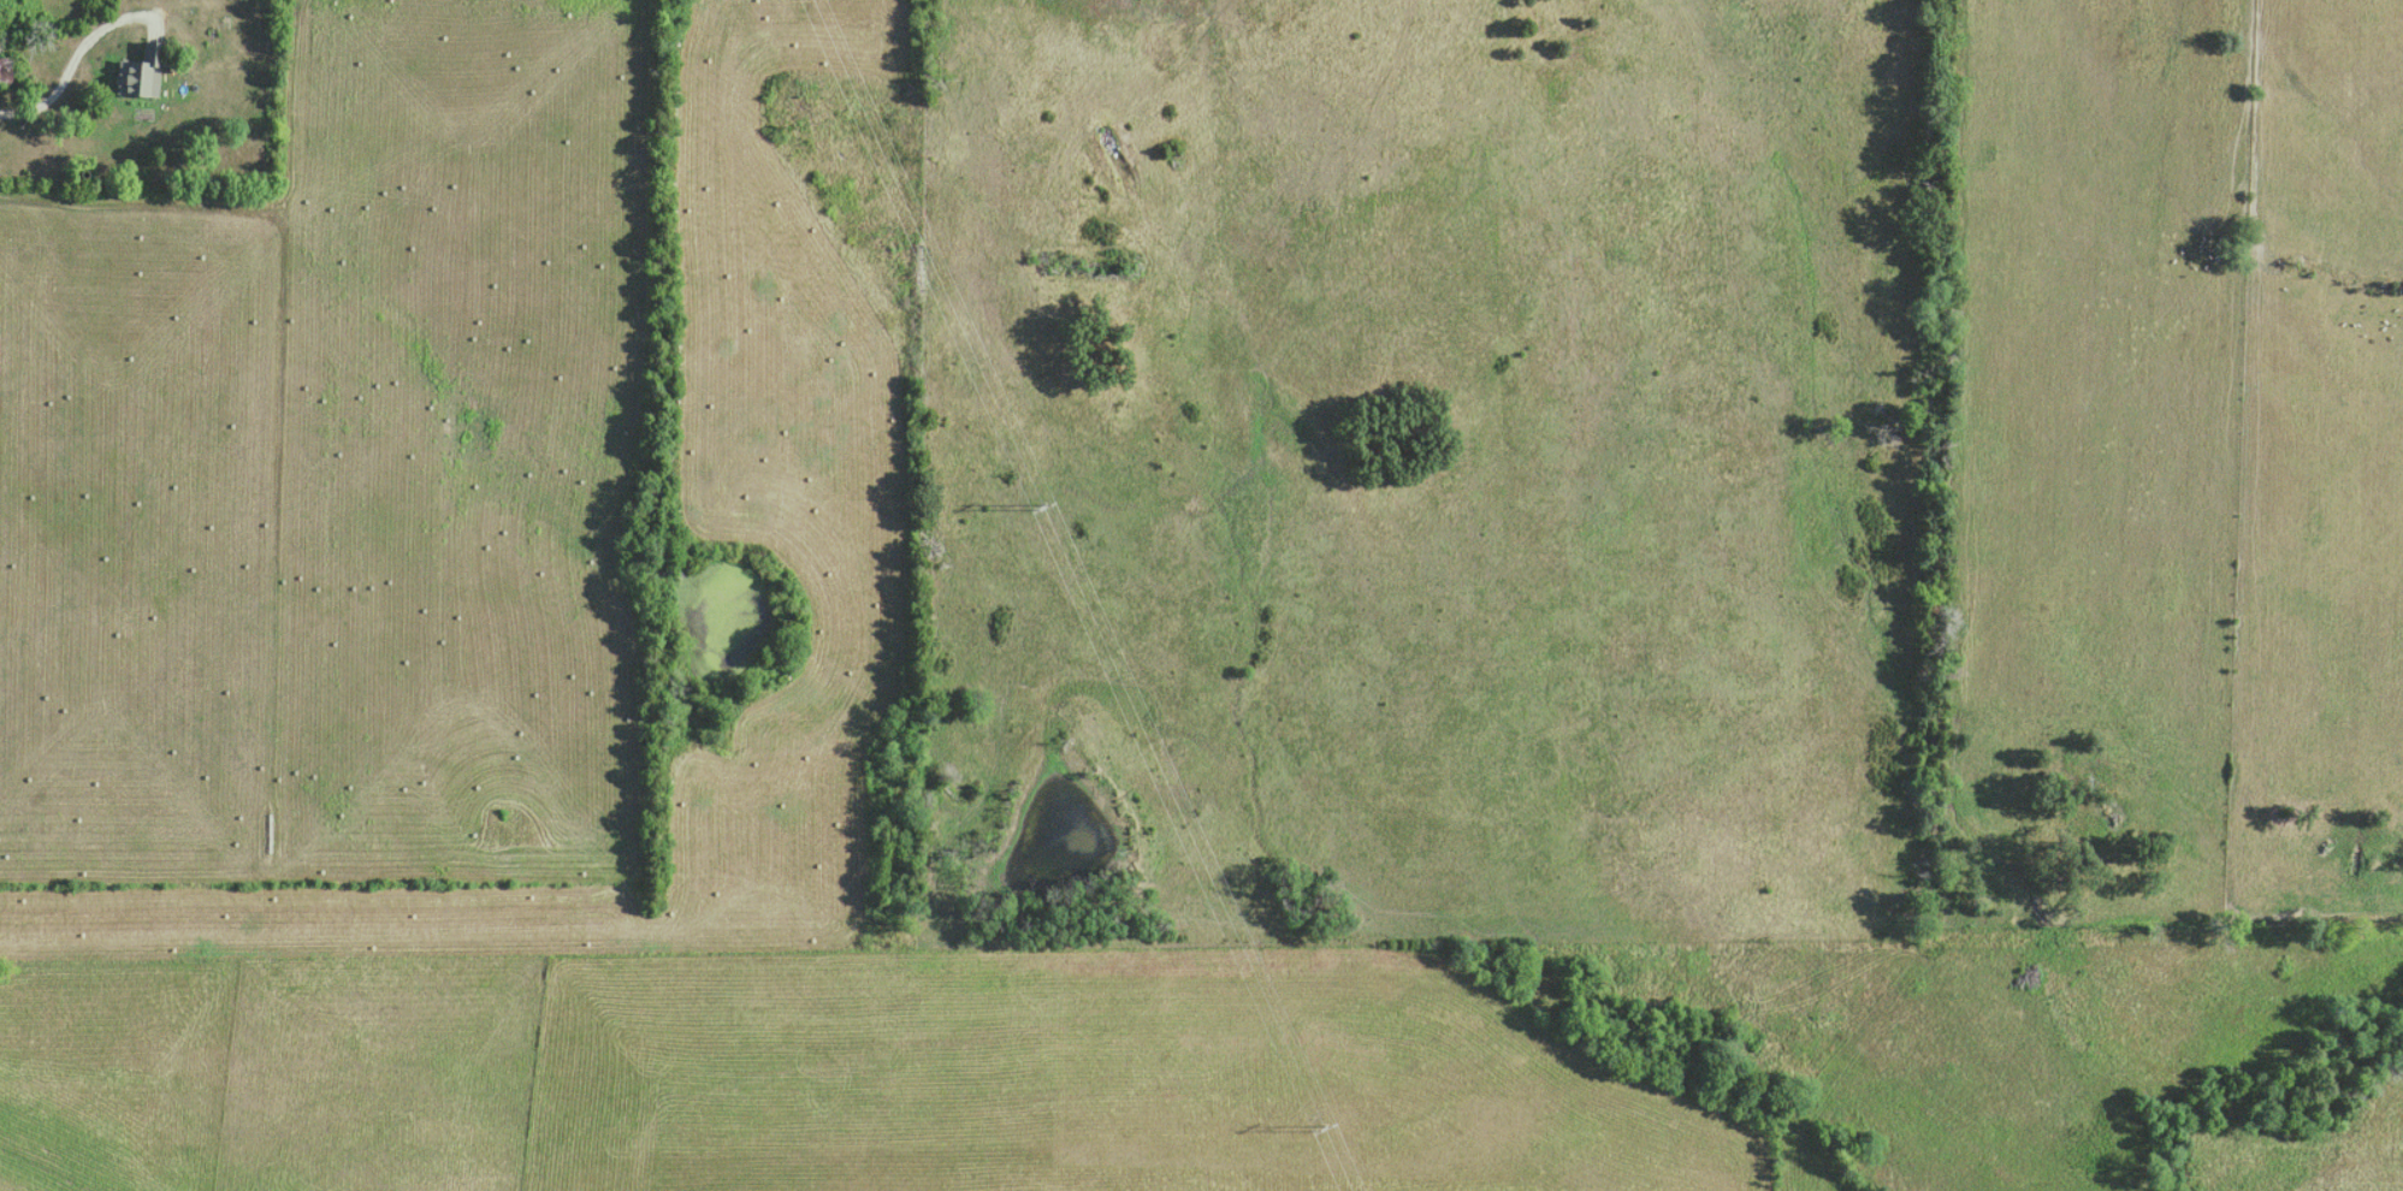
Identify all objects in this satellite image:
road: (73, 57)
building: (7, 67)
building: (143, 71)

